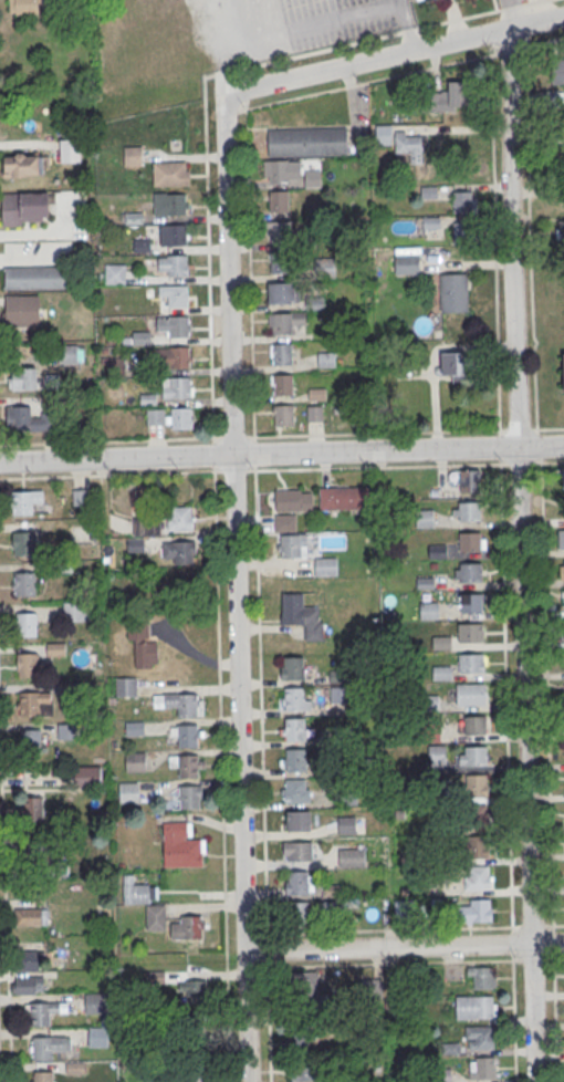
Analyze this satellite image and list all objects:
building: (427, 1)
road: (531, 1)
road: (512, 6)
building: (24, 7)
road: (480, 12)
road: (453, 19)
road: (429, 24)
road: (407, 30)
road: (545, 41)
road: (302, 53)
road: (387, 55)
building: (557, 73)
road: (367, 81)
building: (449, 97)
building: (555, 98)
building: (306, 143)
building: (407, 143)
building: (69, 149)
building: (557, 156)
building: (24, 165)
building: (278, 171)
building: (170, 175)
building: (463, 200)
building: (278, 202)
building: (169, 206)
building: (23, 209)
building: (430, 221)
building: (561, 229)
building: (459, 231)
building: (279, 232)
building: (173, 237)
road: (494, 239)
road: (529, 239)
road: (207, 257)
building: (406, 262)
building: (279, 263)
building: (174, 267)
road: (248, 270)
building: (114, 273)
building: (34, 279)
building: (453, 291)
building: (280, 294)
building: (175, 296)
building: (22, 312)
building: (281, 325)
building: (174, 327)
building: (140, 336)
building: (72, 353)
building: (281, 355)
building: (171, 358)
building: (456, 365)
building: (563, 374)
building: (25, 377)
building: (282, 386)
building: (177, 391)
building: (282, 416)
building: (25, 418)
building: (180, 419)
road: (547, 427)
road: (518, 428)
road: (376, 433)
road: (124, 440)
road: (537, 444)
road: (499, 448)
road: (281, 452)
road: (547, 461)
road: (373, 466)
road: (109, 472)
building: (469, 479)
building: (81, 496)
building: (343, 497)
building: (293, 499)
building: (24, 500)
building: (563, 510)
building: (469, 512)
building: (179, 517)
building: (424, 517)
building: (285, 520)
building: (563, 537)
building: (22, 542)
building: (469, 543)
building: (134, 544)
building: (291, 544)
building: (438, 550)
building: (179, 551)
road: (520, 555)
building: (325, 565)
building: (562, 568)
building: (470, 574)
building: (24, 583)
road: (234, 597)
building: (470, 604)
building: (428, 610)
building: (77, 611)
building: (301, 614)
building: (27, 623)
building: (137, 628)
building: (470, 633)
building: (441, 642)
building: (145, 654)
building: (28, 664)
building: (471, 664)
building: (293, 669)
building: (125, 686)
building: (337, 693)
building: (470, 693)
road: (545, 694)
road: (504, 696)
building: (293, 699)
road: (260, 700)
building: (34, 703)
building: (187, 706)
building: (473, 726)
building: (134, 728)
building: (63, 730)
building: (294, 730)
building: (187, 737)
building: (30, 740)
building: (474, 757)
building: (134, 760)
building: (294, 761)
building: (188, 768)
road: (221, 773)
building: (87, 776)
building: (477, 784)
building: (128, 791)
building: (294, 792)
building: (188, 799)
building: (346, 799)
building: (32, 807)
building: (477, 816)
building: (297, 822)
building: (346, 823)
building: (179, 844)
building: (477, 846)
building: (299, 853)
building: (351, 855)
road: (6, 859)
building: (477, 876)
building: (297, 882)
building: (146, 904)
building: (474, 909)
building: (300, 913)
building: (31, 916)
road: (554, 924)
road: (531, 925)
building: (187, 926)
road: (389, 928)
road: (510, 940)
road: (552, 940)
road: (404, 947)
road: (268, 949)
building: (29, 959)
road: (533, 959)
road: (554, 959)
road: (393, 961)
building: (480, 976)
building: (28, 985)
building: (304, 987)
building: (369, 989)
building: (194, 990)
building: (97, 1002)
building: (473, 1007)
building: (45, 1011)
road: (554, 1016)
road: (513, 1017)
road: (270, 1022)
building: (97, 1036)
building: (482, 1038)
building: (301, 1040)
building: (48, 1045)
building: (483, 1069)
building: (190, 1071)
building: (307, 1071)
building: (43, 1075)

